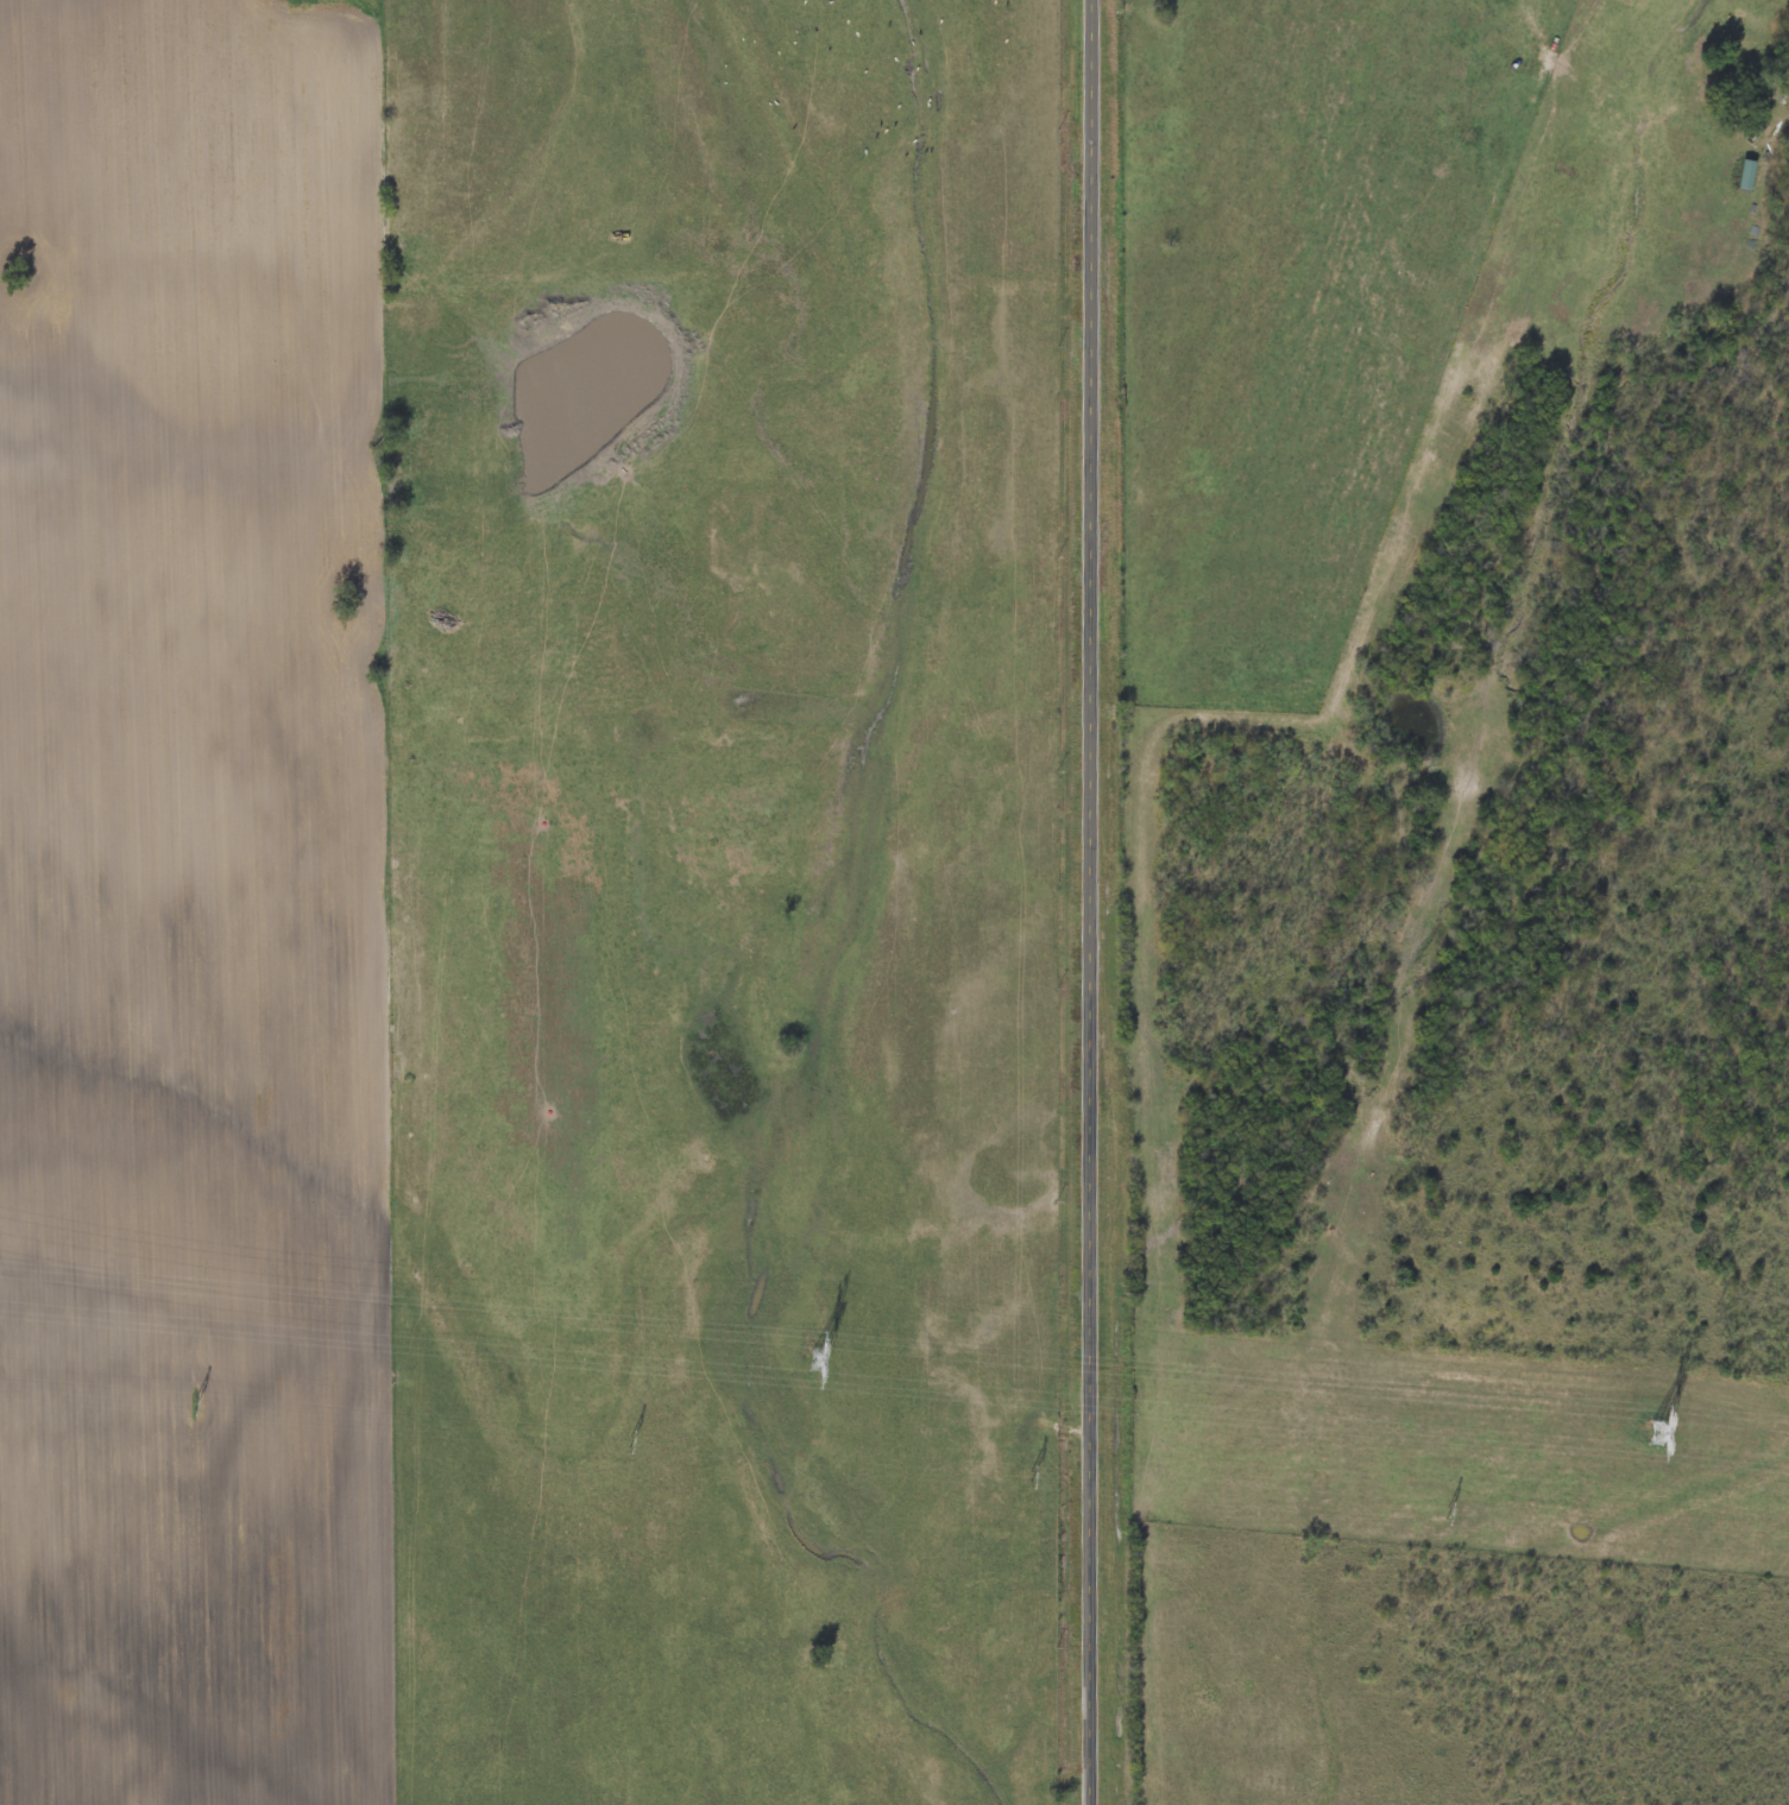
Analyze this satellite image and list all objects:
road: (1089, 902)
power tower: (817, 1359)
power tower: (1656, 1433)

